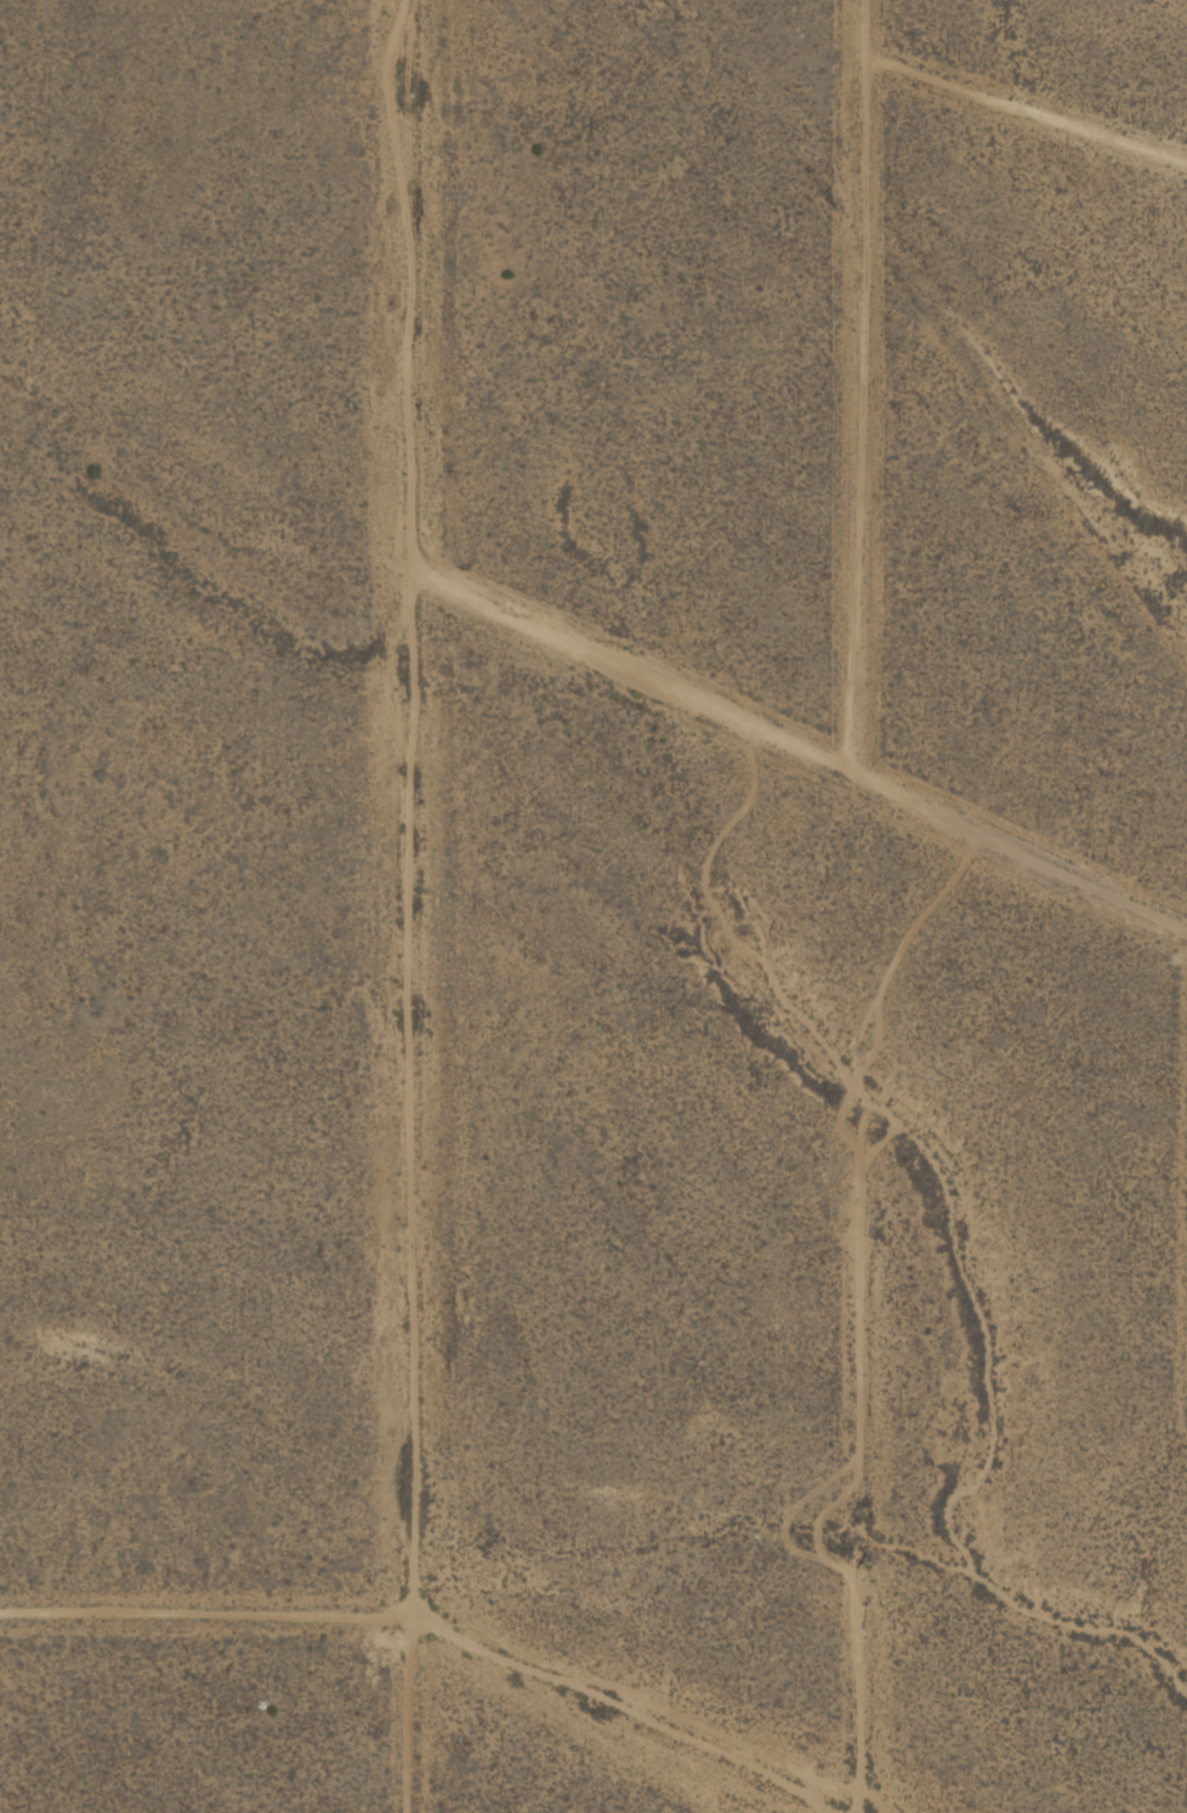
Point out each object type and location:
road: (856, 387)
road: (799, 749)
road: (409, 906)
road: (436, 1627)

